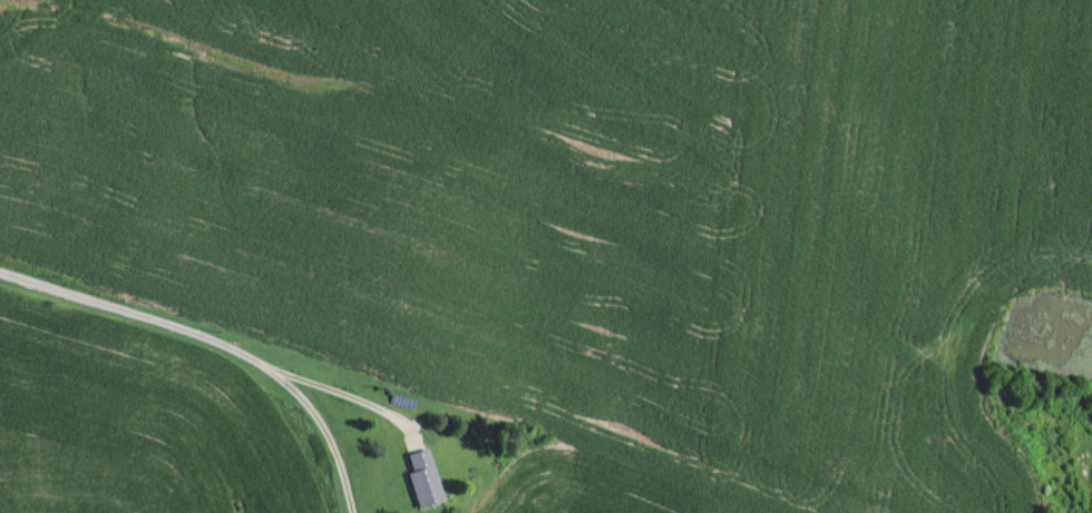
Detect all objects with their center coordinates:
road: (221, 337)
building: (429, 477)

